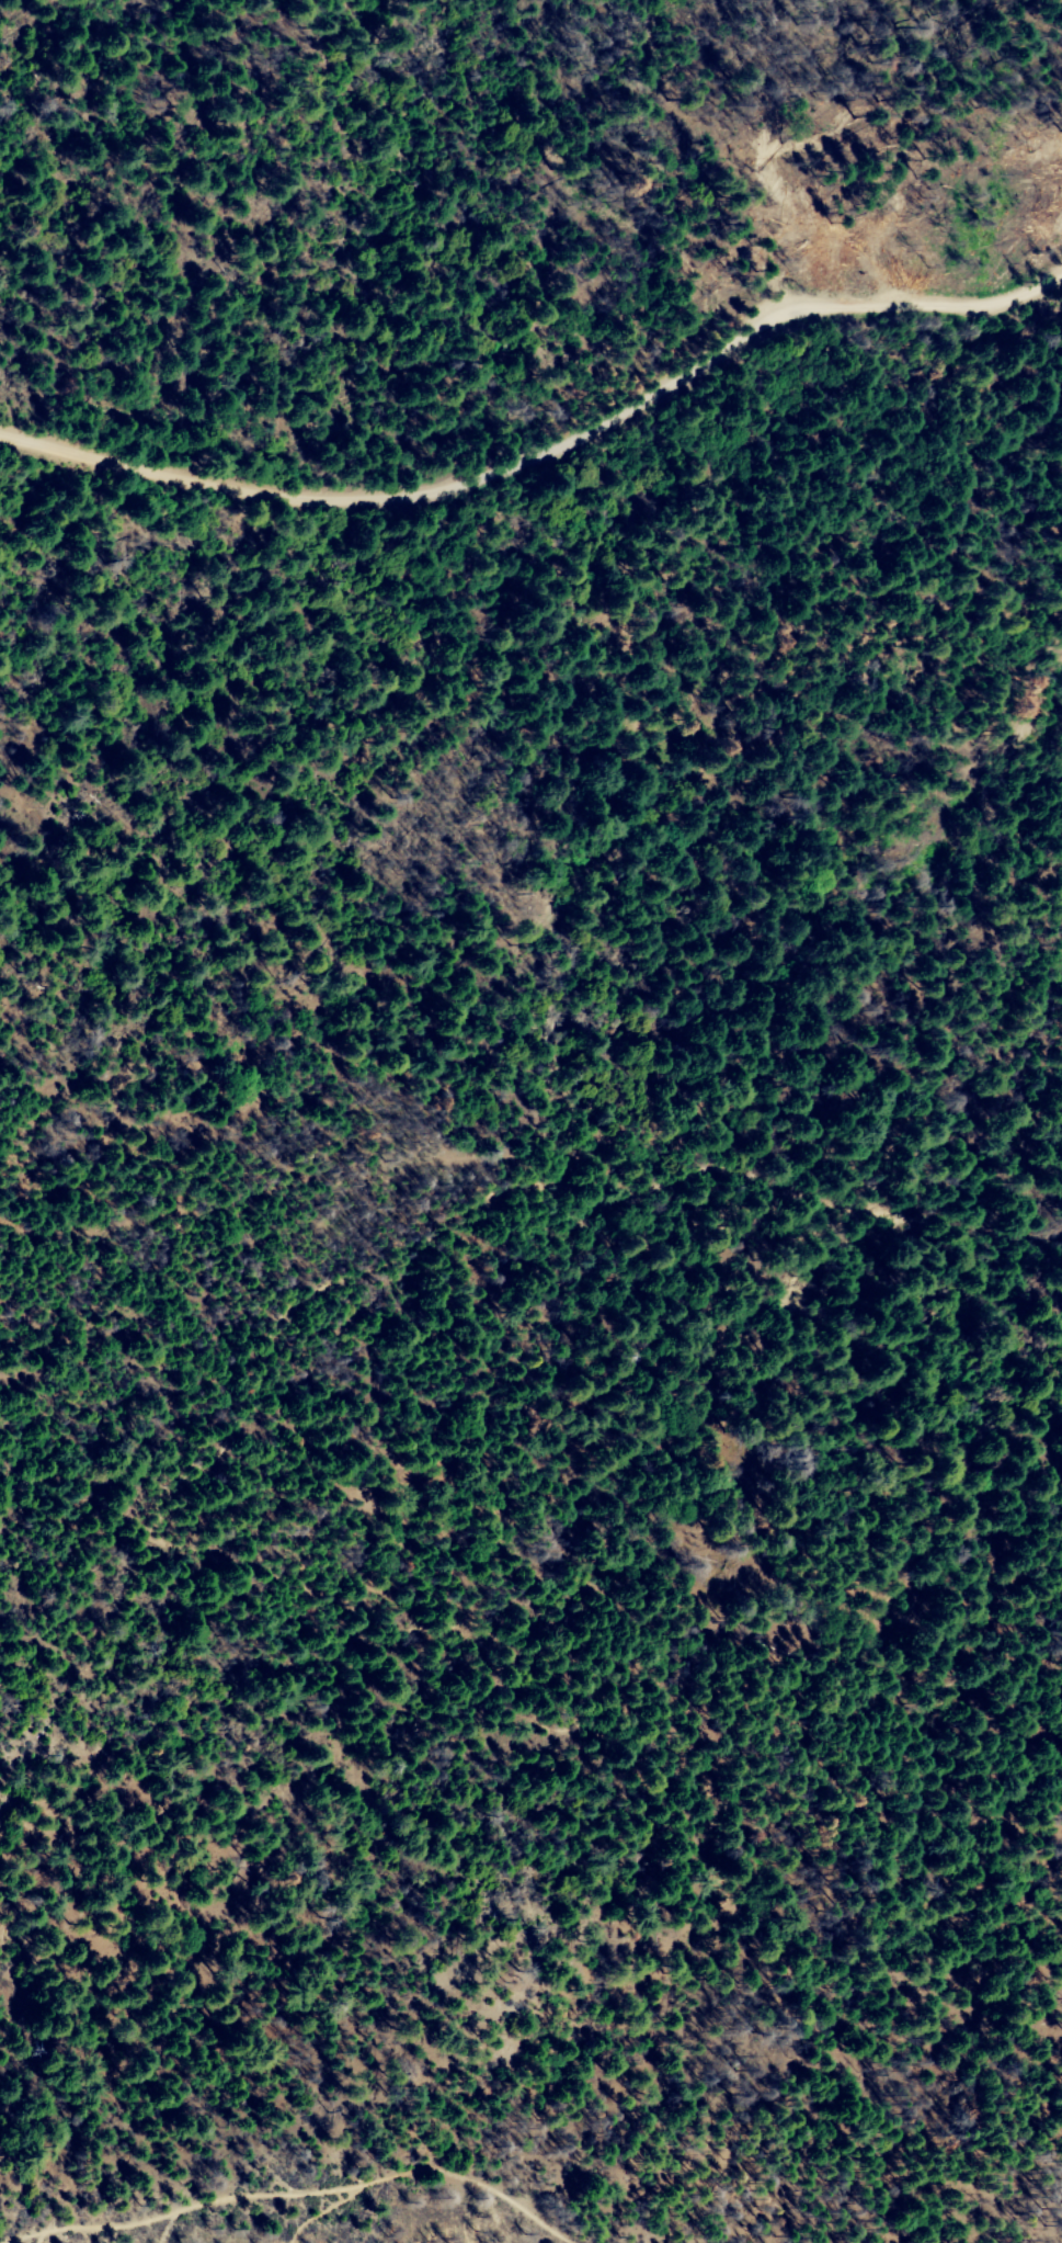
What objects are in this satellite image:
road: (547, 465)

